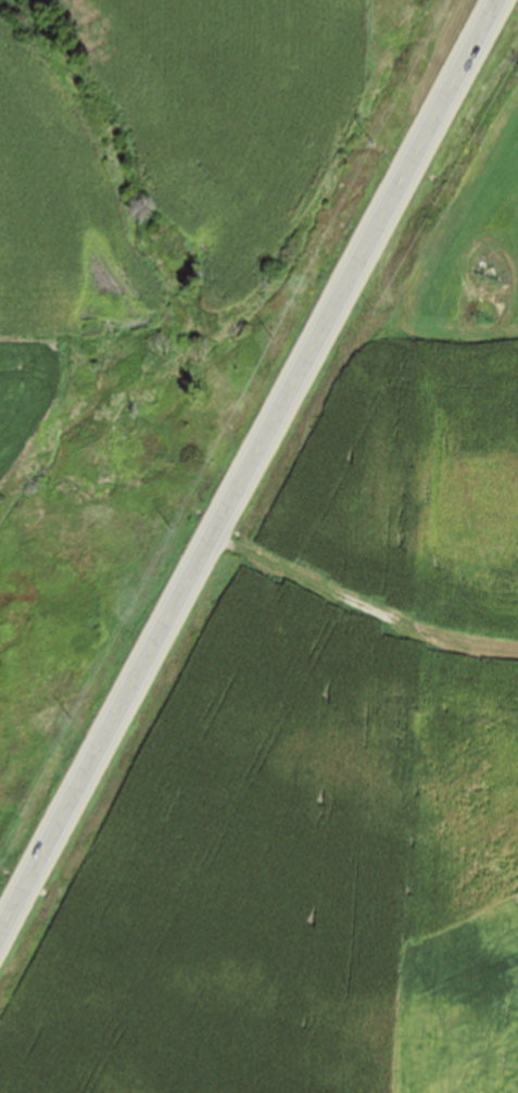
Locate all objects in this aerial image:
road: (250, 464)

